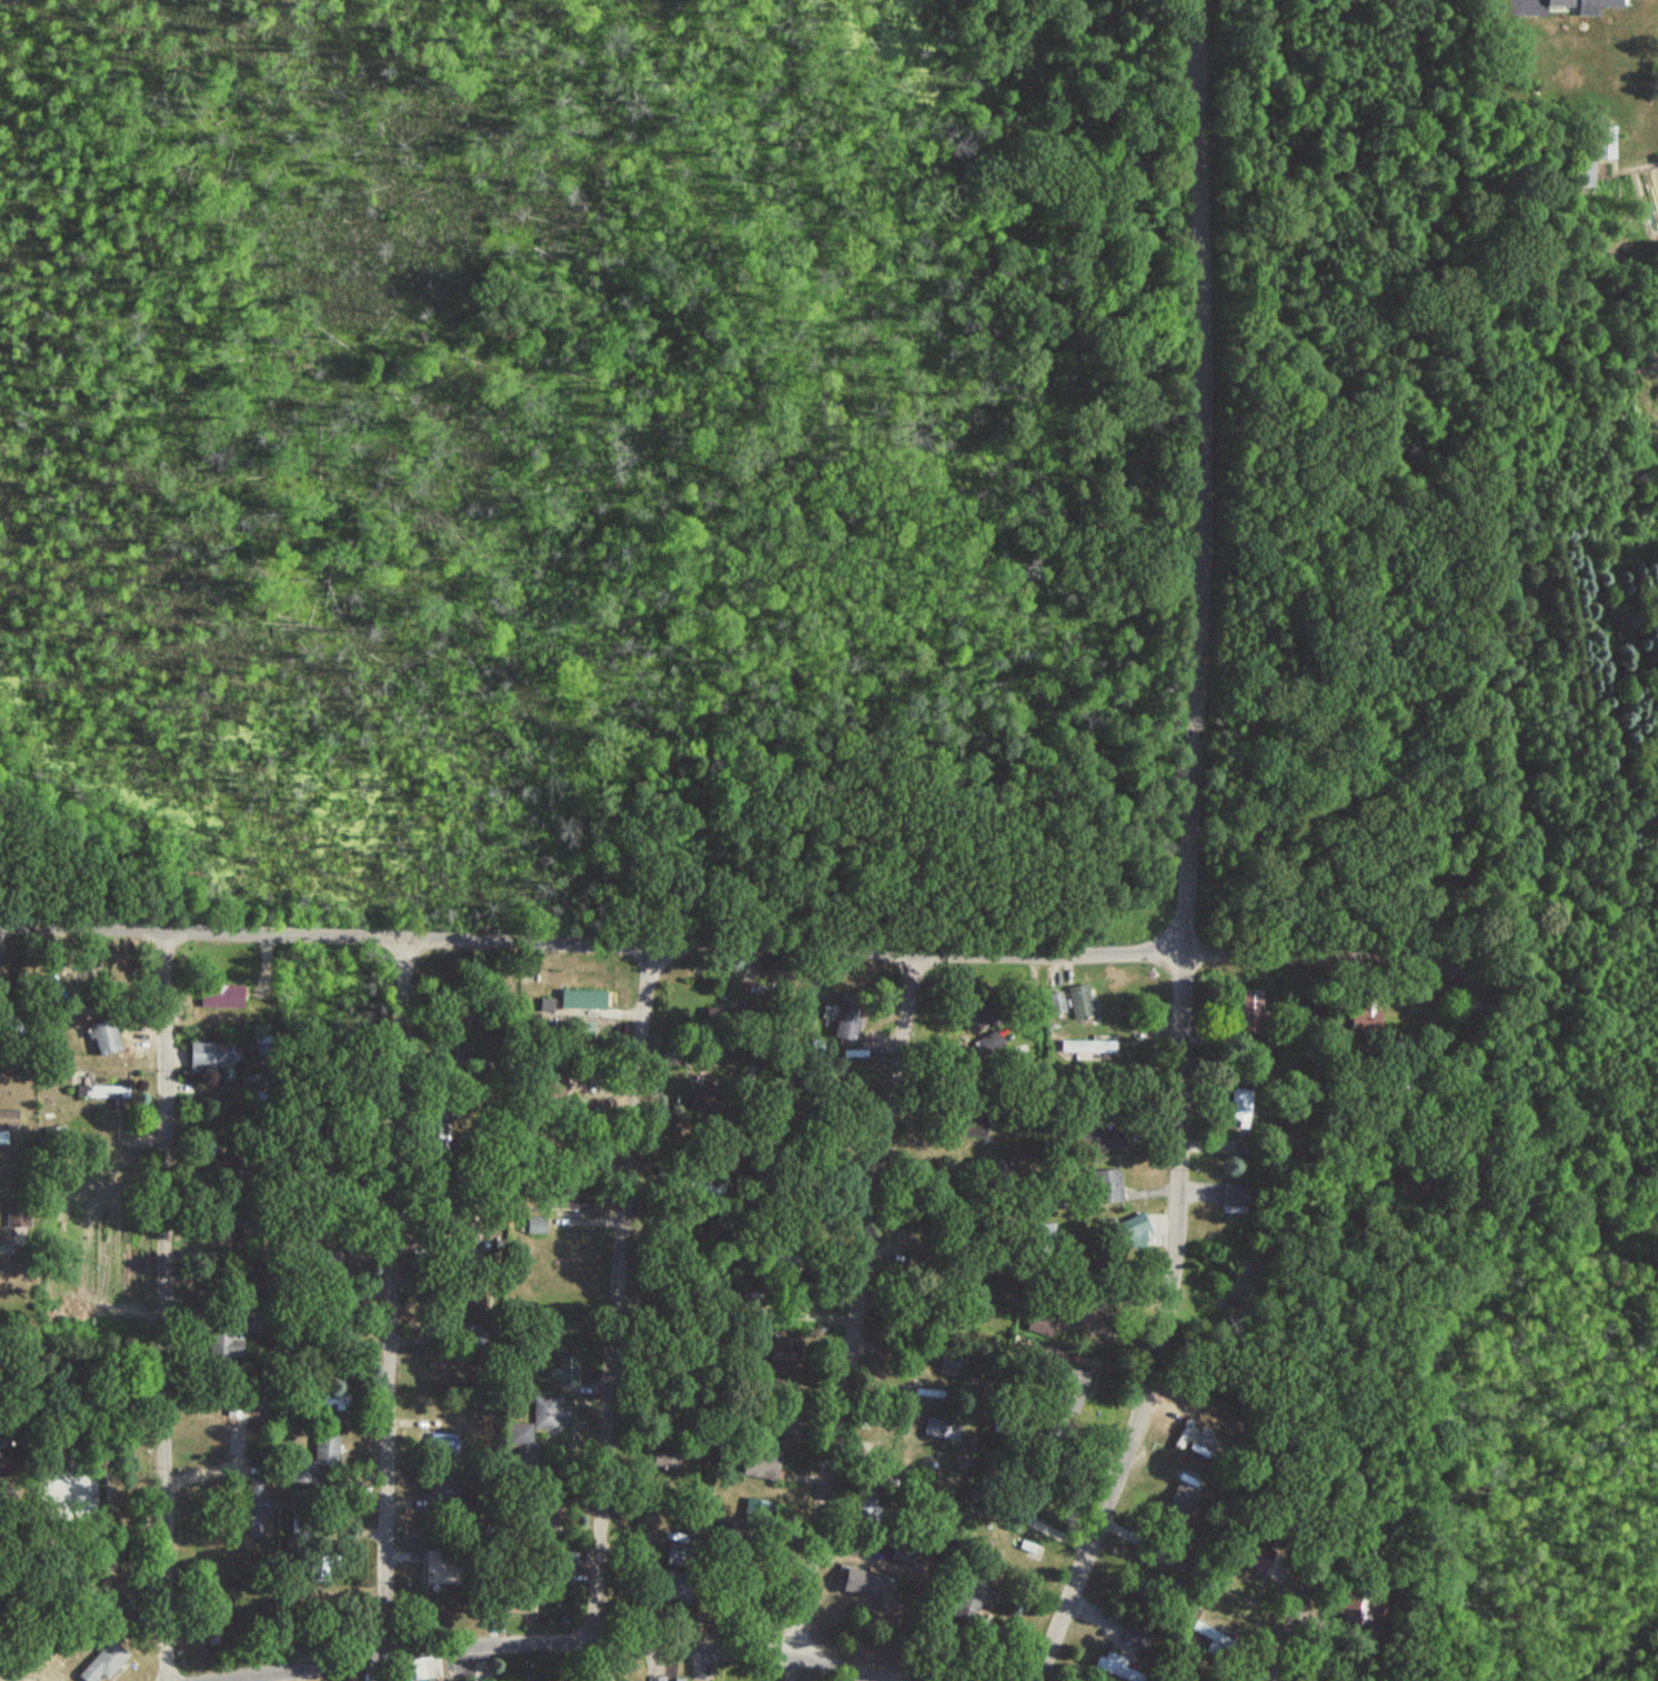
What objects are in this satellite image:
building: (1581, 4)
building: (1606, 143)
building: (1584, 174)
road: (1192, 852)
road: (1179, 937)
road: (733, 940)
road: (409, 972)
building: (221, 997)
building: (584, 1000)
building: (1082, 1002)
building: (1057, 1003)
building: (1253, 1010)
building: (846, 1020)
building: (102, 1037)
building: (988, 1043)
building: (1087, 1051)
building: (210, 1055)
building: (104, 1092)
building: (1240, 1108)
road: (1479, 1108)
building: (9, 1120)
building: (974, 1122)
building: (3, 1139)
building: (1107, 1188)
building: (1236, 1199)
building: (540, 1225)
road: (624, 1289)
road: (856, 1298)
building: (468, 1300)
road: (164, 1301)
road: (390, 1335)
building: (228, 1344)
building: (781, 1348)
building: (546, 1415)
building: (785, 1425)
building: (316, 1461)
building: (758, 1462)
building: (449, 1494)
building: (254, 1507)
building: (873, 1549)
building: (435, 1569)
building: (861, 1584)
building: (1240, 1593)
building: (973, 1594)
building: (1374, 1607)
road: (1313, 1612)
building: (1136, 1637)
road: (556, 1643)
building: (102, 1663)
building: (1113, 1667)
building: (655, 1678)
road: (1456, 1679)

